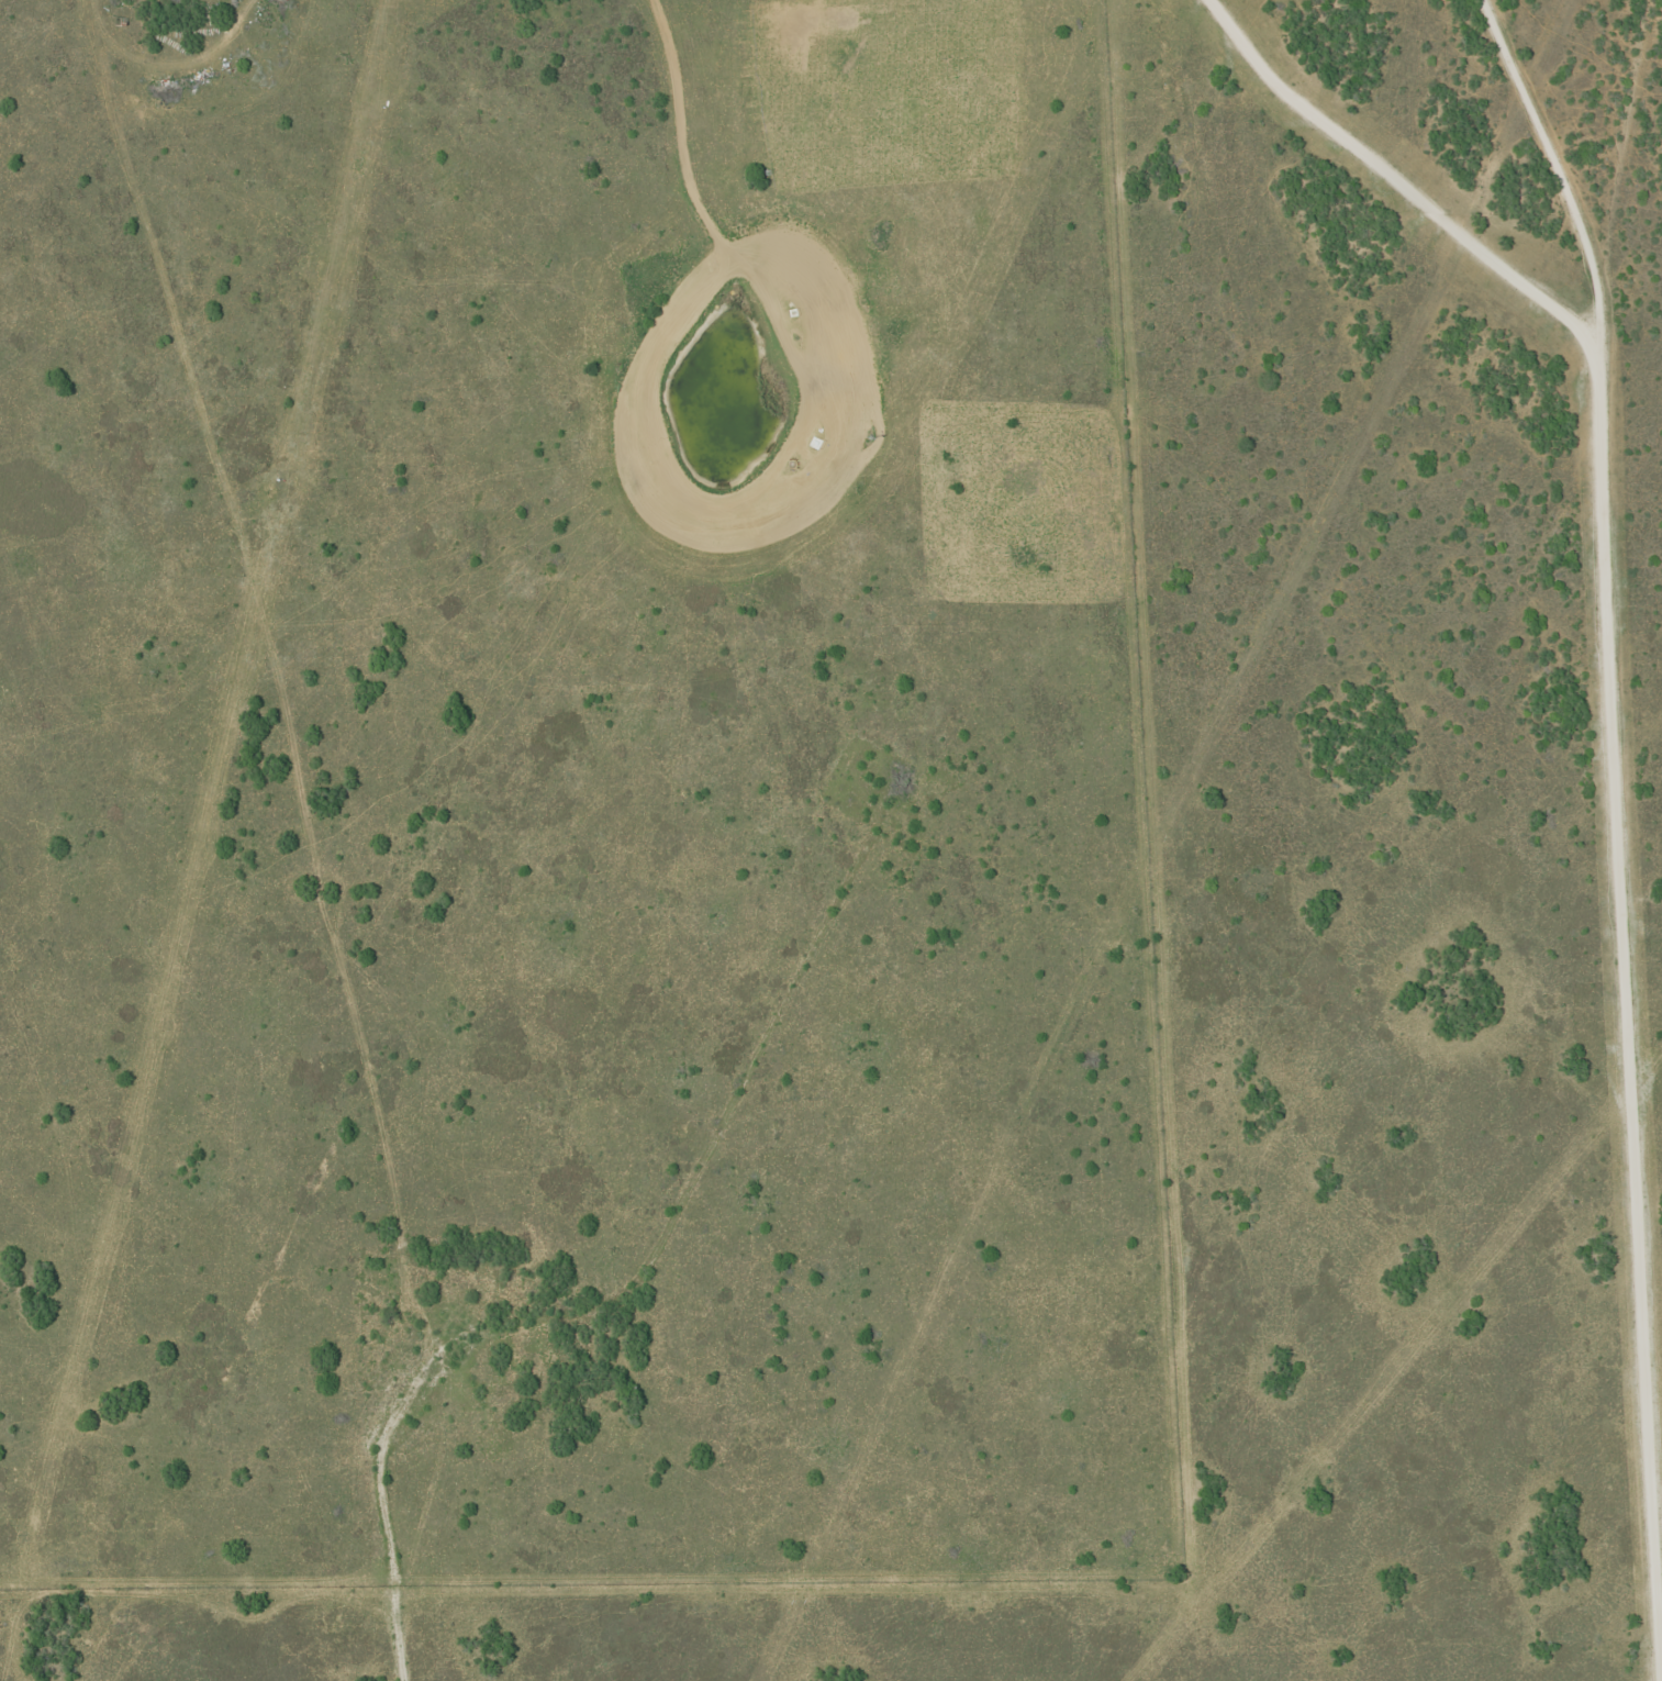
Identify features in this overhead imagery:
road: (1585, 500)
road: (1472, 833)

